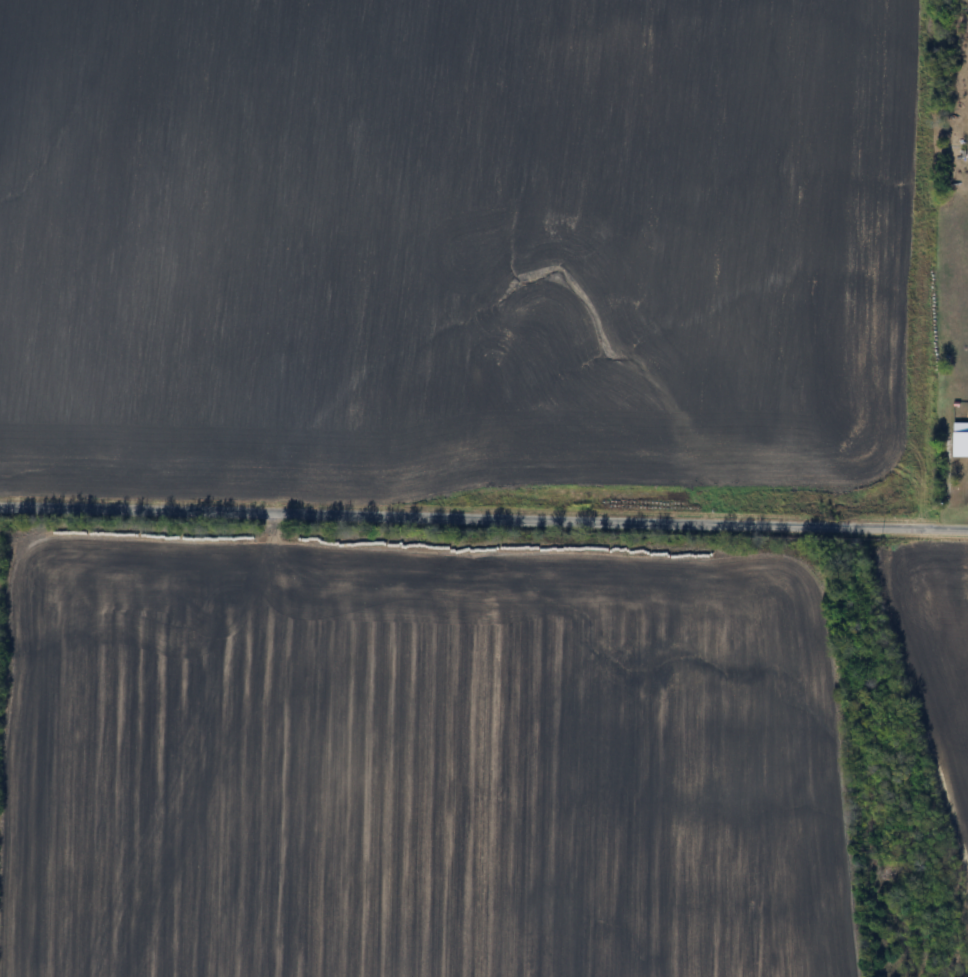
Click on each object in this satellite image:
road: (484, 519)

